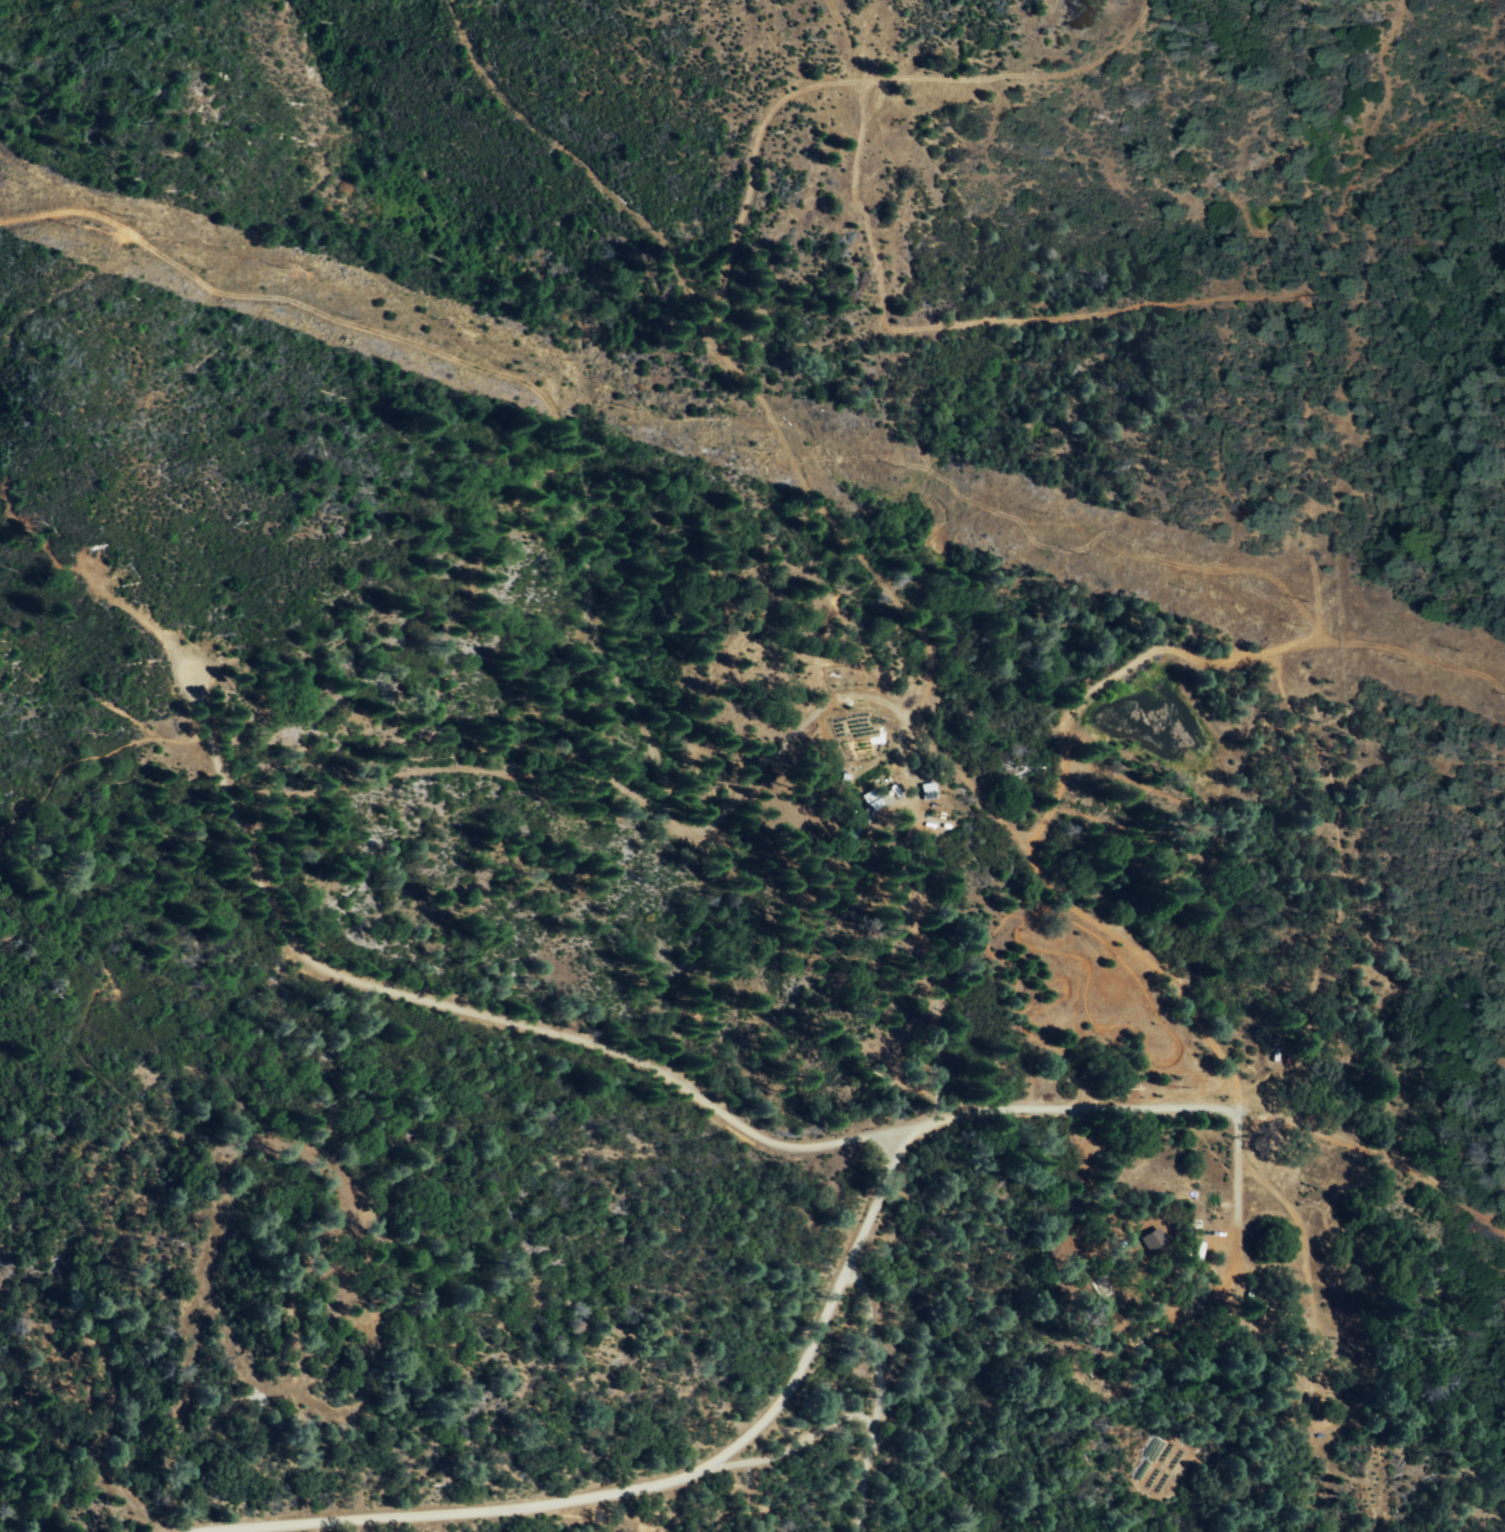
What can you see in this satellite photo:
road: (331, 201)
building: (870, 801)
road: (1106, 933)
road: (462, 1013)
road: (1215, 1116)
road: (1233, 1192)
road: (874, 1396)
road: (704, 1481)

